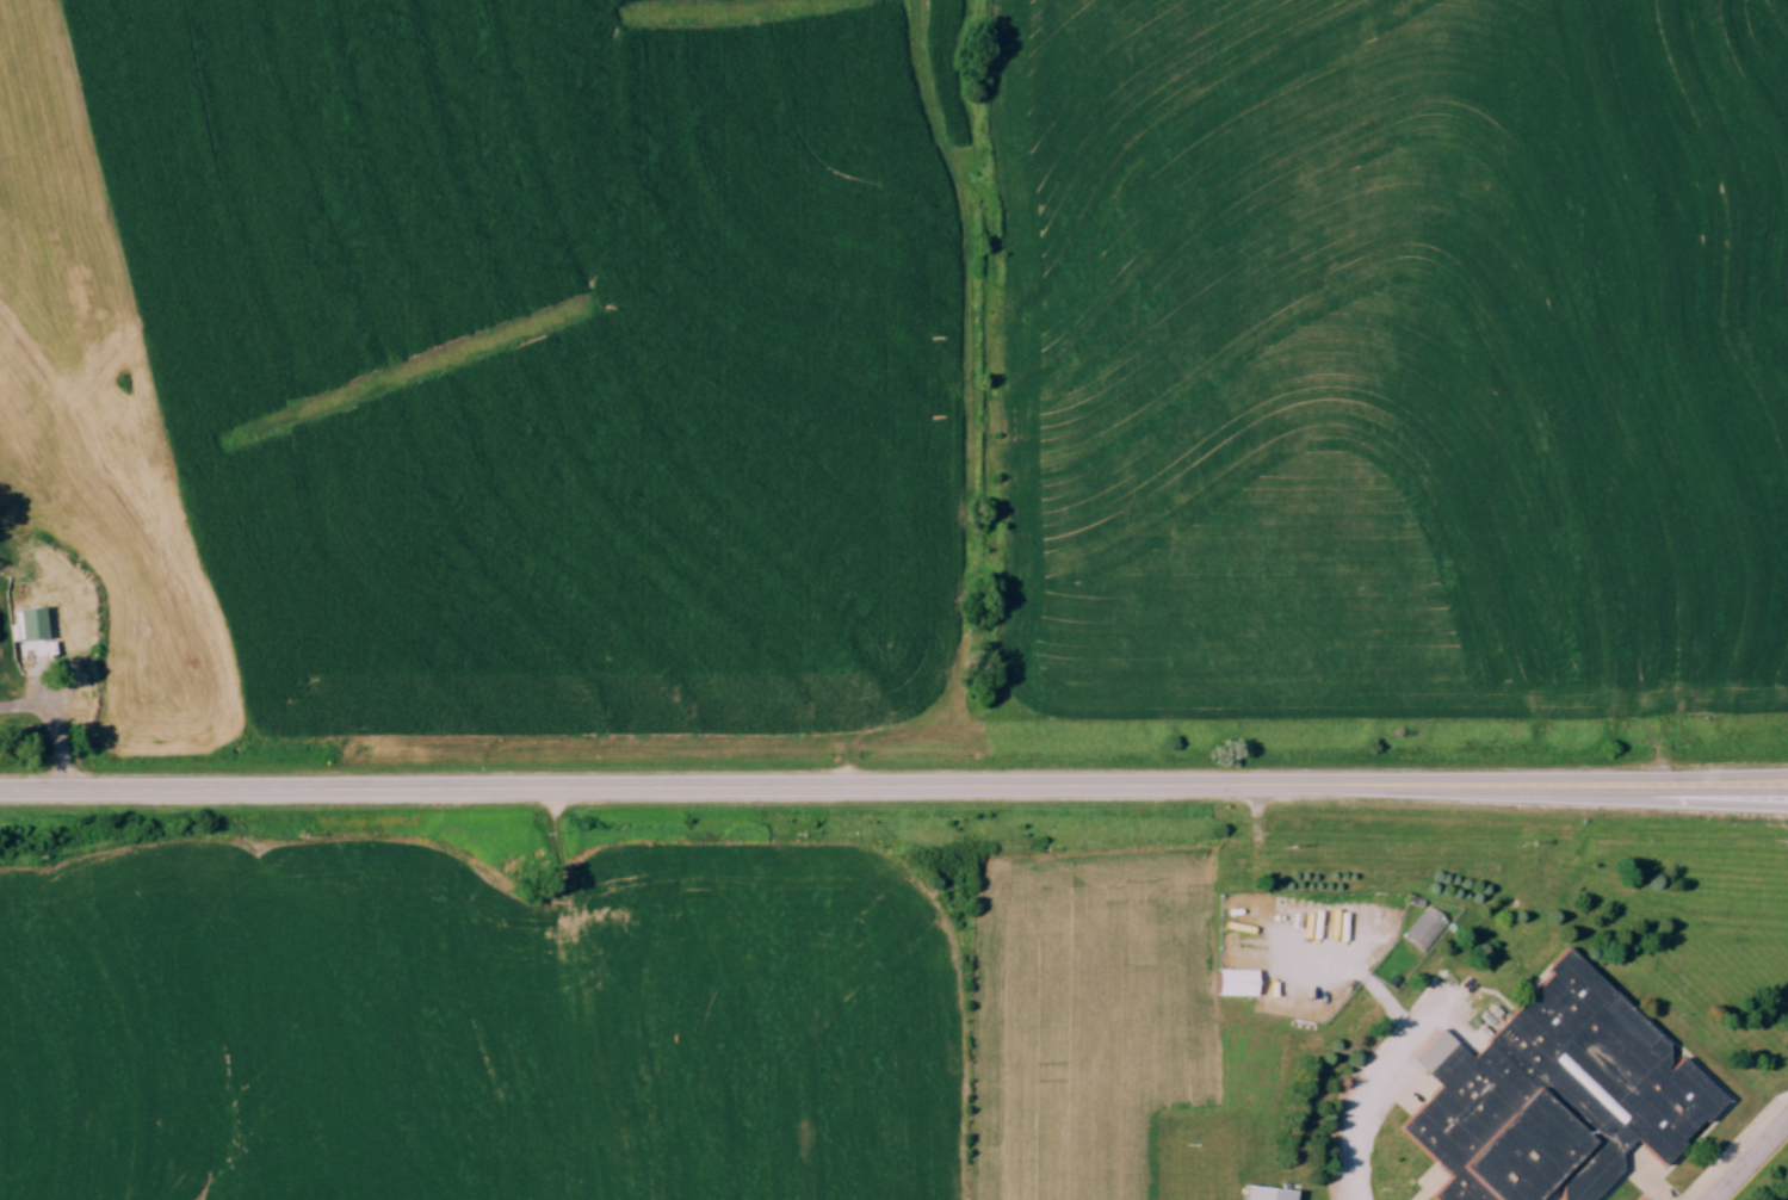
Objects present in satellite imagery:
building: (32, 625)
road: (893, 790)
building: (1238, 982)
road: (1394, 1050)
building: (1559, 1096)
road: (1752, 1161)

